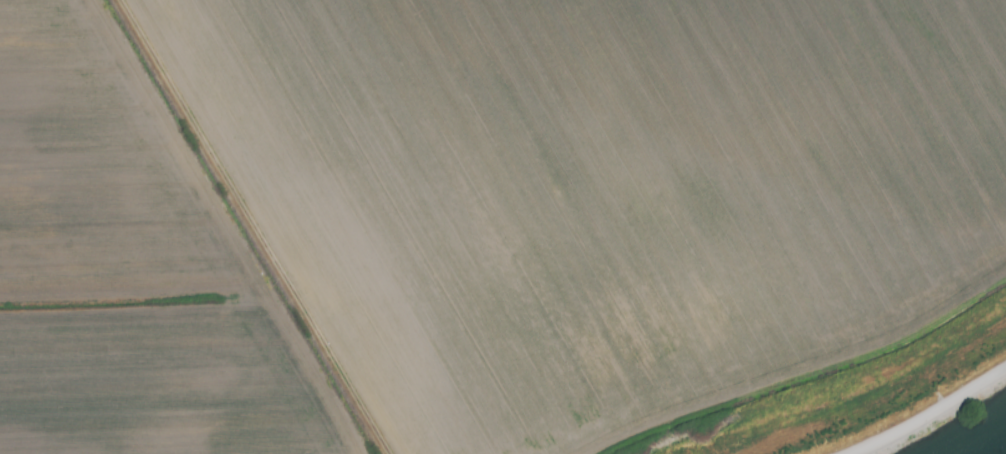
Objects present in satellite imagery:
crop: (488, 220)
road: (930, 417)

